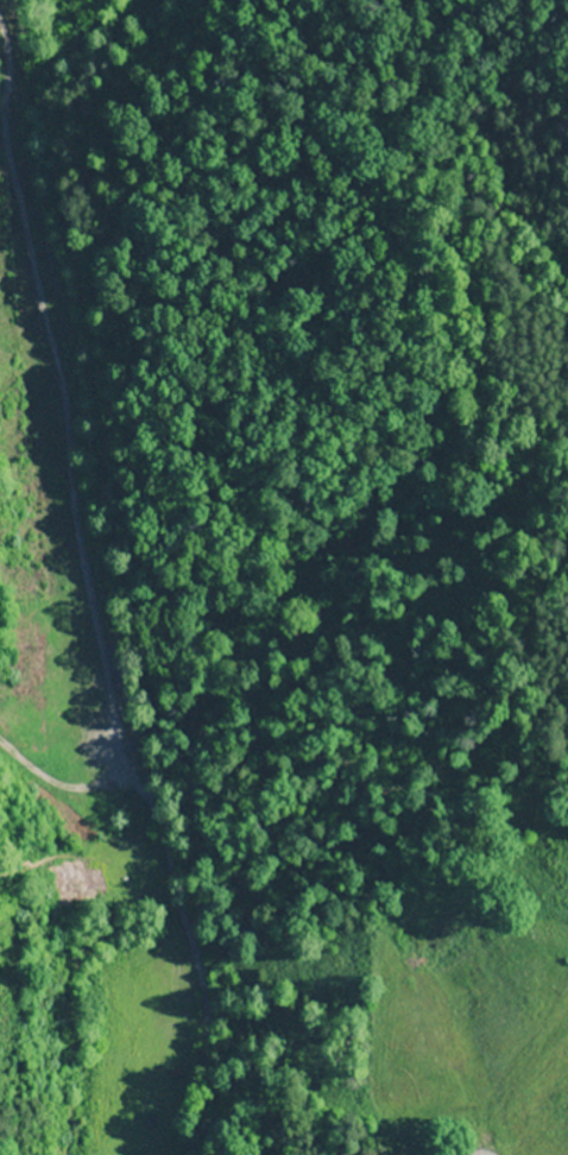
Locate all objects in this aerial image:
road: (111, 579)

